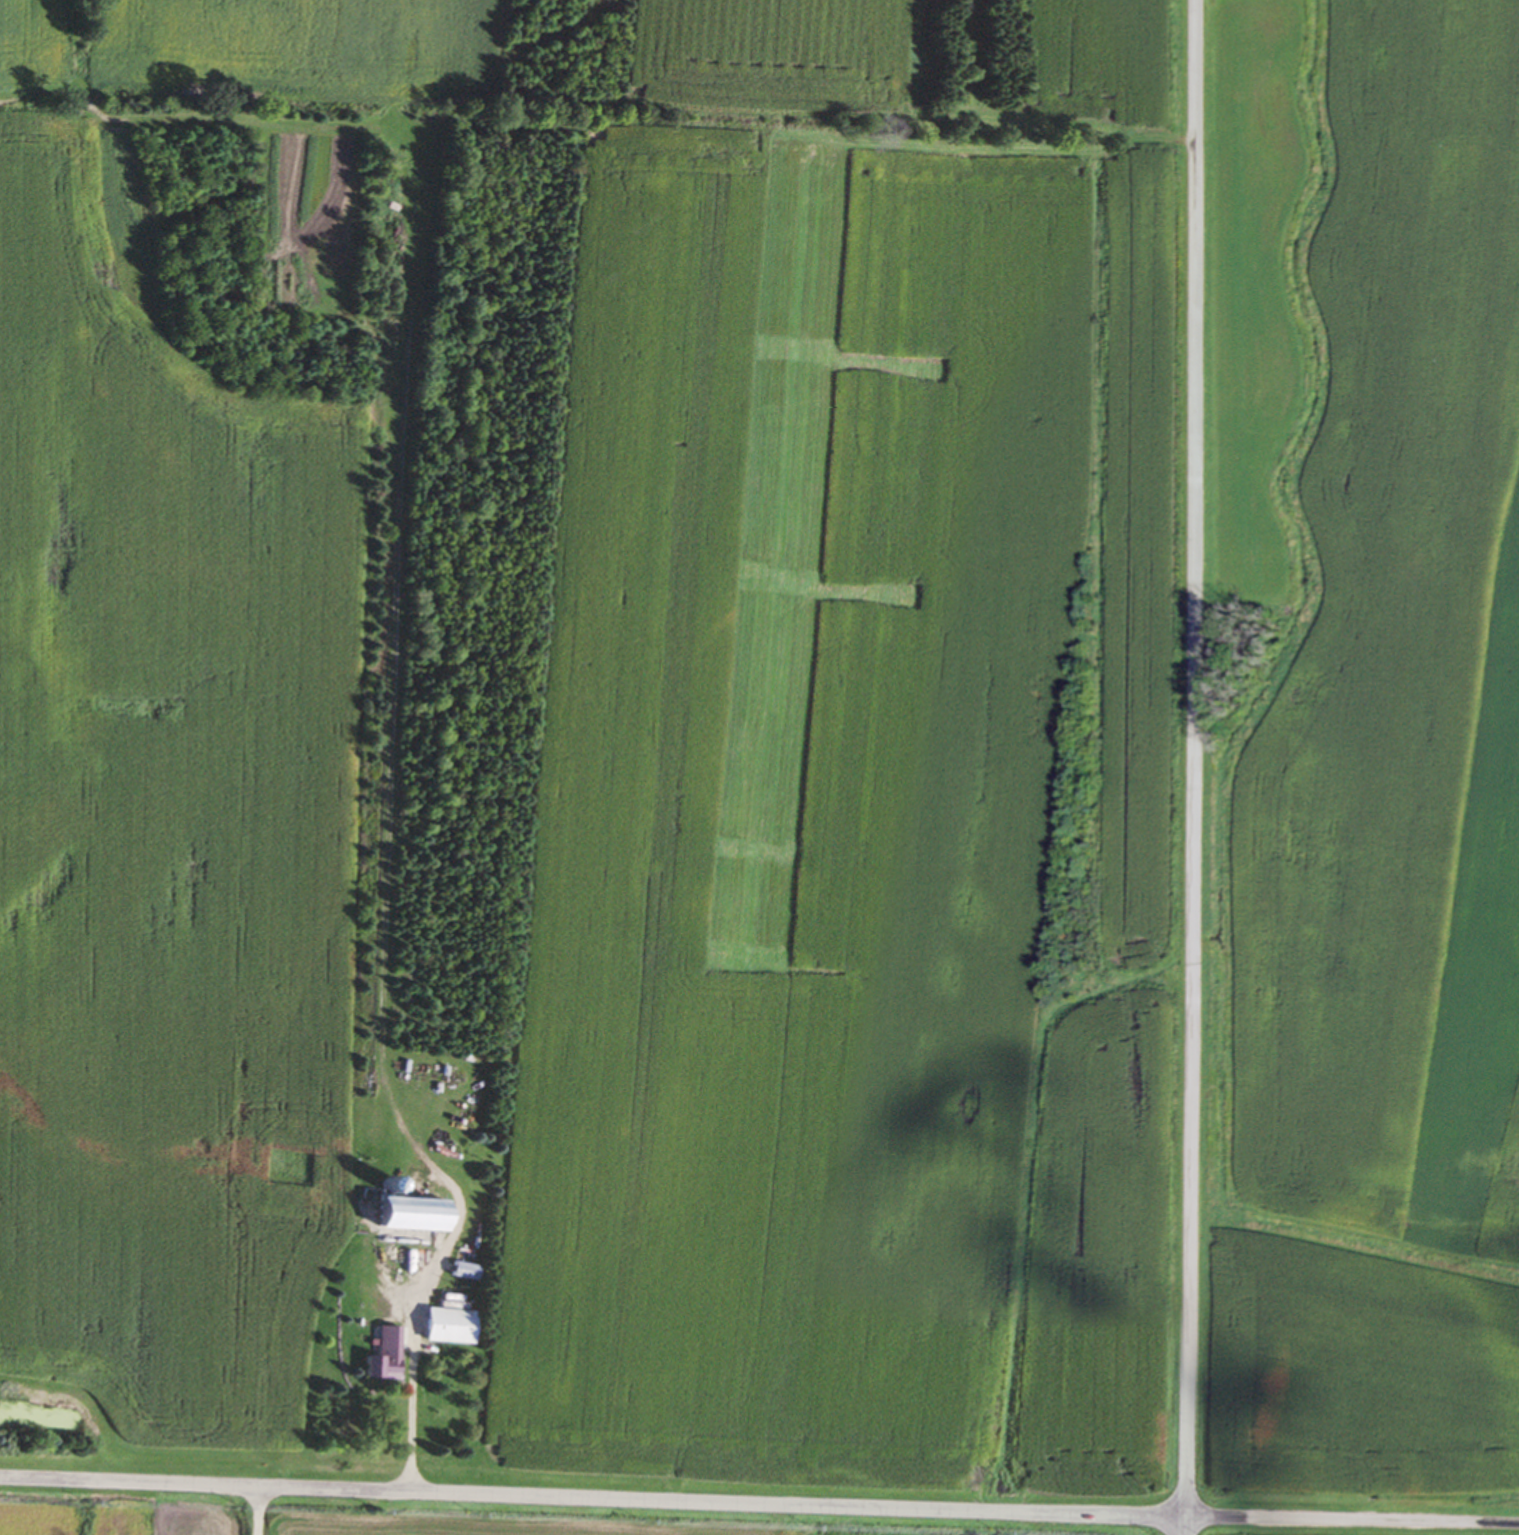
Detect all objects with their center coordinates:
road: (1194, 767)
building: (406, 1215)
road: (433, 1261)
building: (446, 1326)
building: (381, 1357)
road: (759, 1504)
road: (256, 1511)

